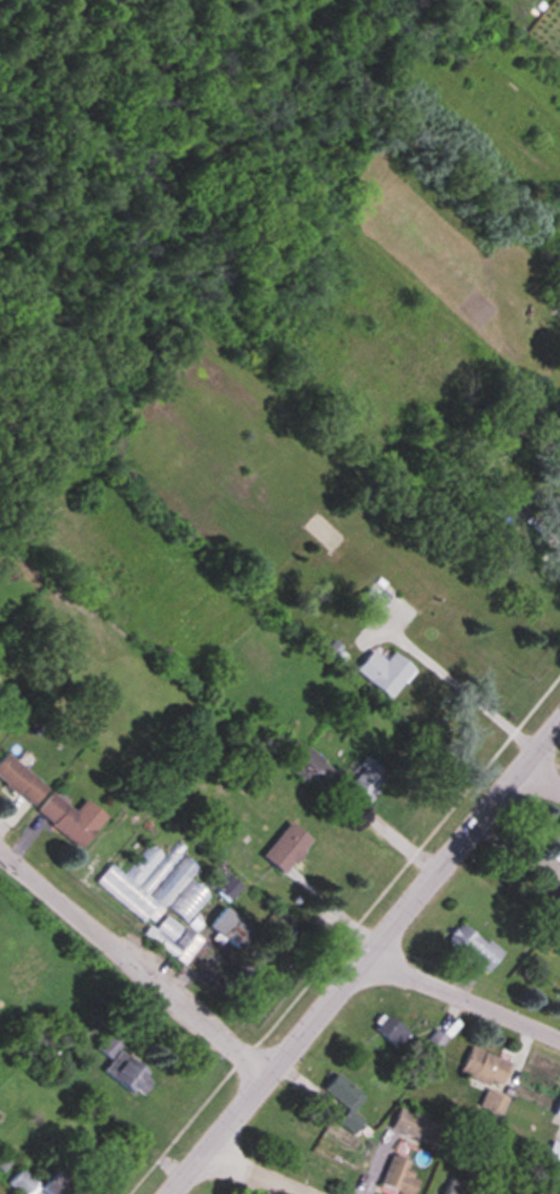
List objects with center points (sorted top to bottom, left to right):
building: (387, 671)
road: (464, 691)
road: (543, 773)
building: (21, 779)
building: (369, 779)
building: (73, 819)
road: (394, 836)
building: (288, 848)
building: (148, 883)
building: (190, 902)
building: (232, 929)
building: (171, 936)
building: (475, 948)
road: (363, 957)
road: (133, 962)
road: (463, 993)
building: (389, 1033)
building: (435, 1042)
building: (109, 1046)
building: (129, 1074)
building: (489, 1078)
building: (345, 1094)
building: (558, 1113)
building: (412, 1126)
road: (252, 1173)
building: (402, 1176)
building: (457, 1188)

